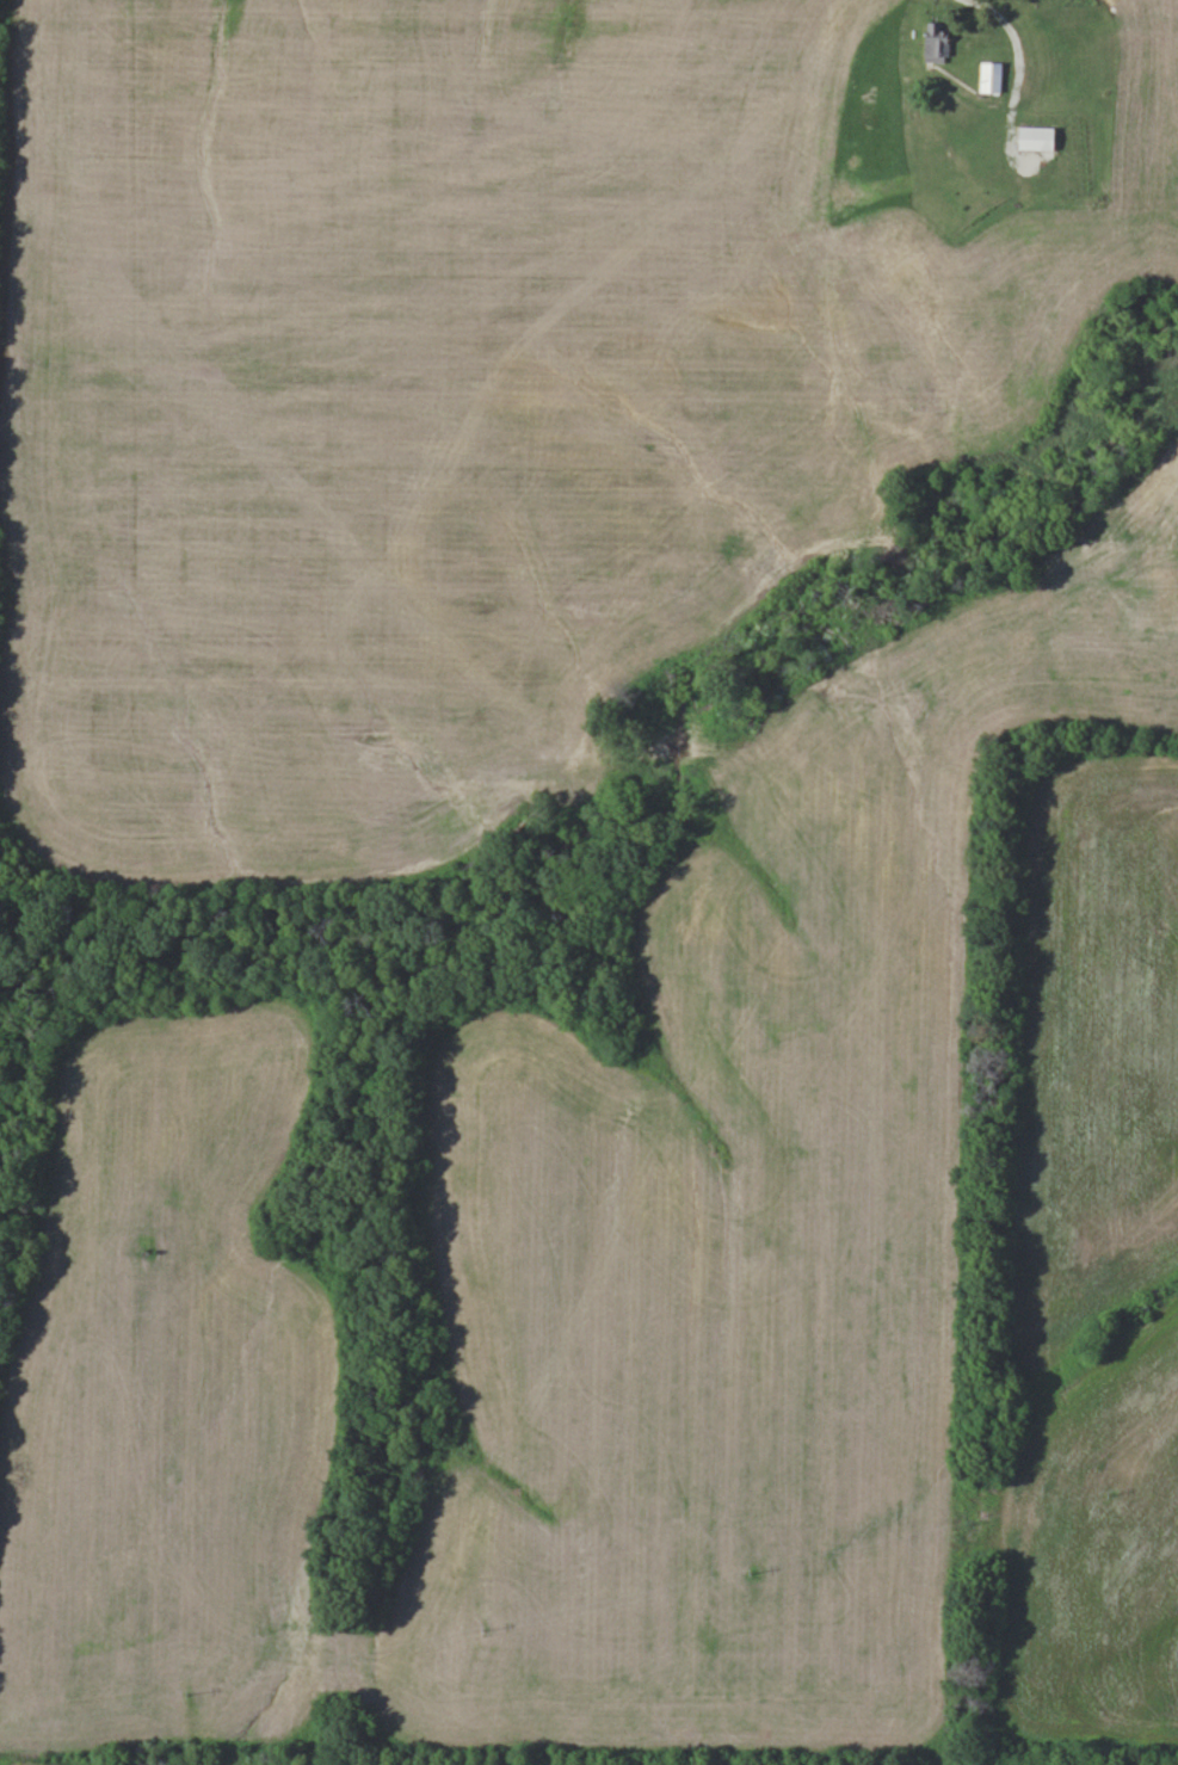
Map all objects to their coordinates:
building: (933, 43)
building: (988, 76)
building: (1036, 141)

